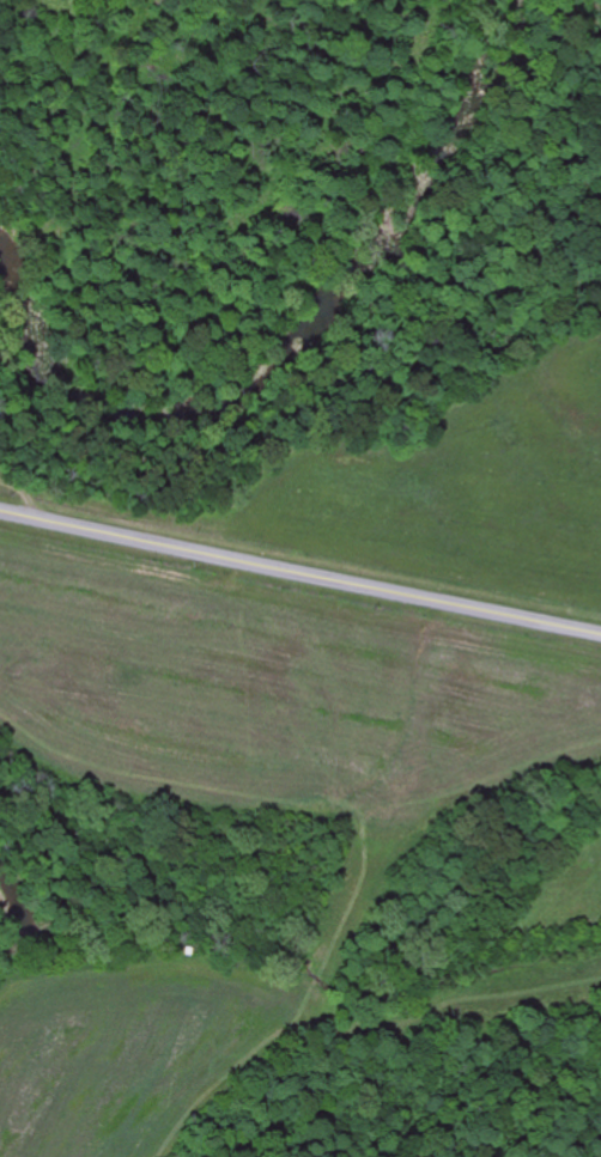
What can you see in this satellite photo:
road: (299, 571)

